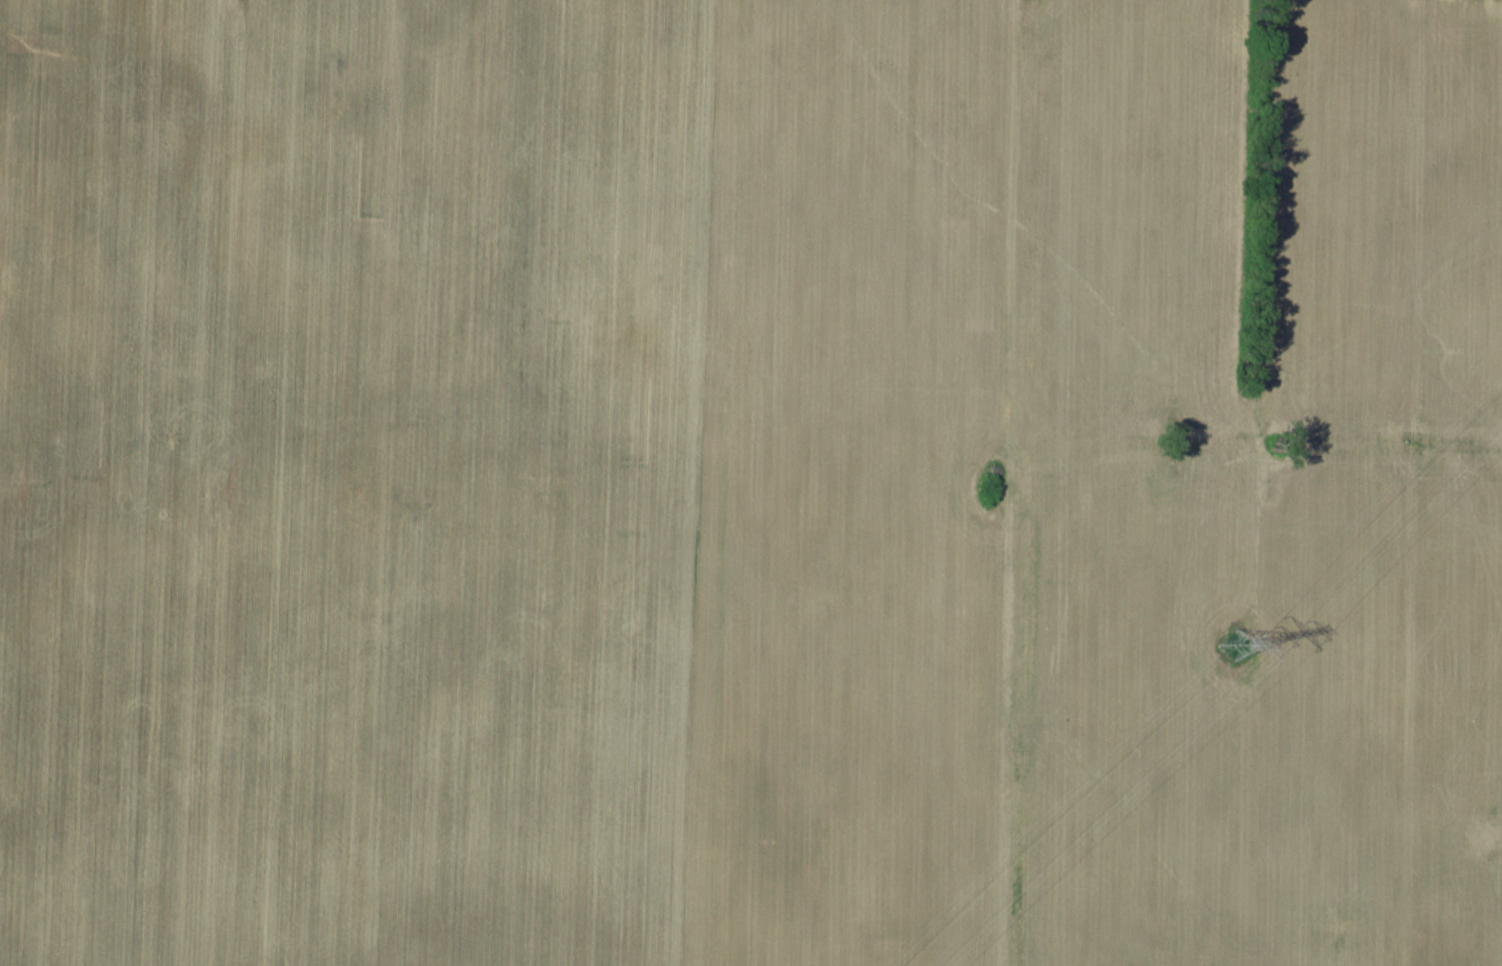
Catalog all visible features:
power tower: (1239, 644)

